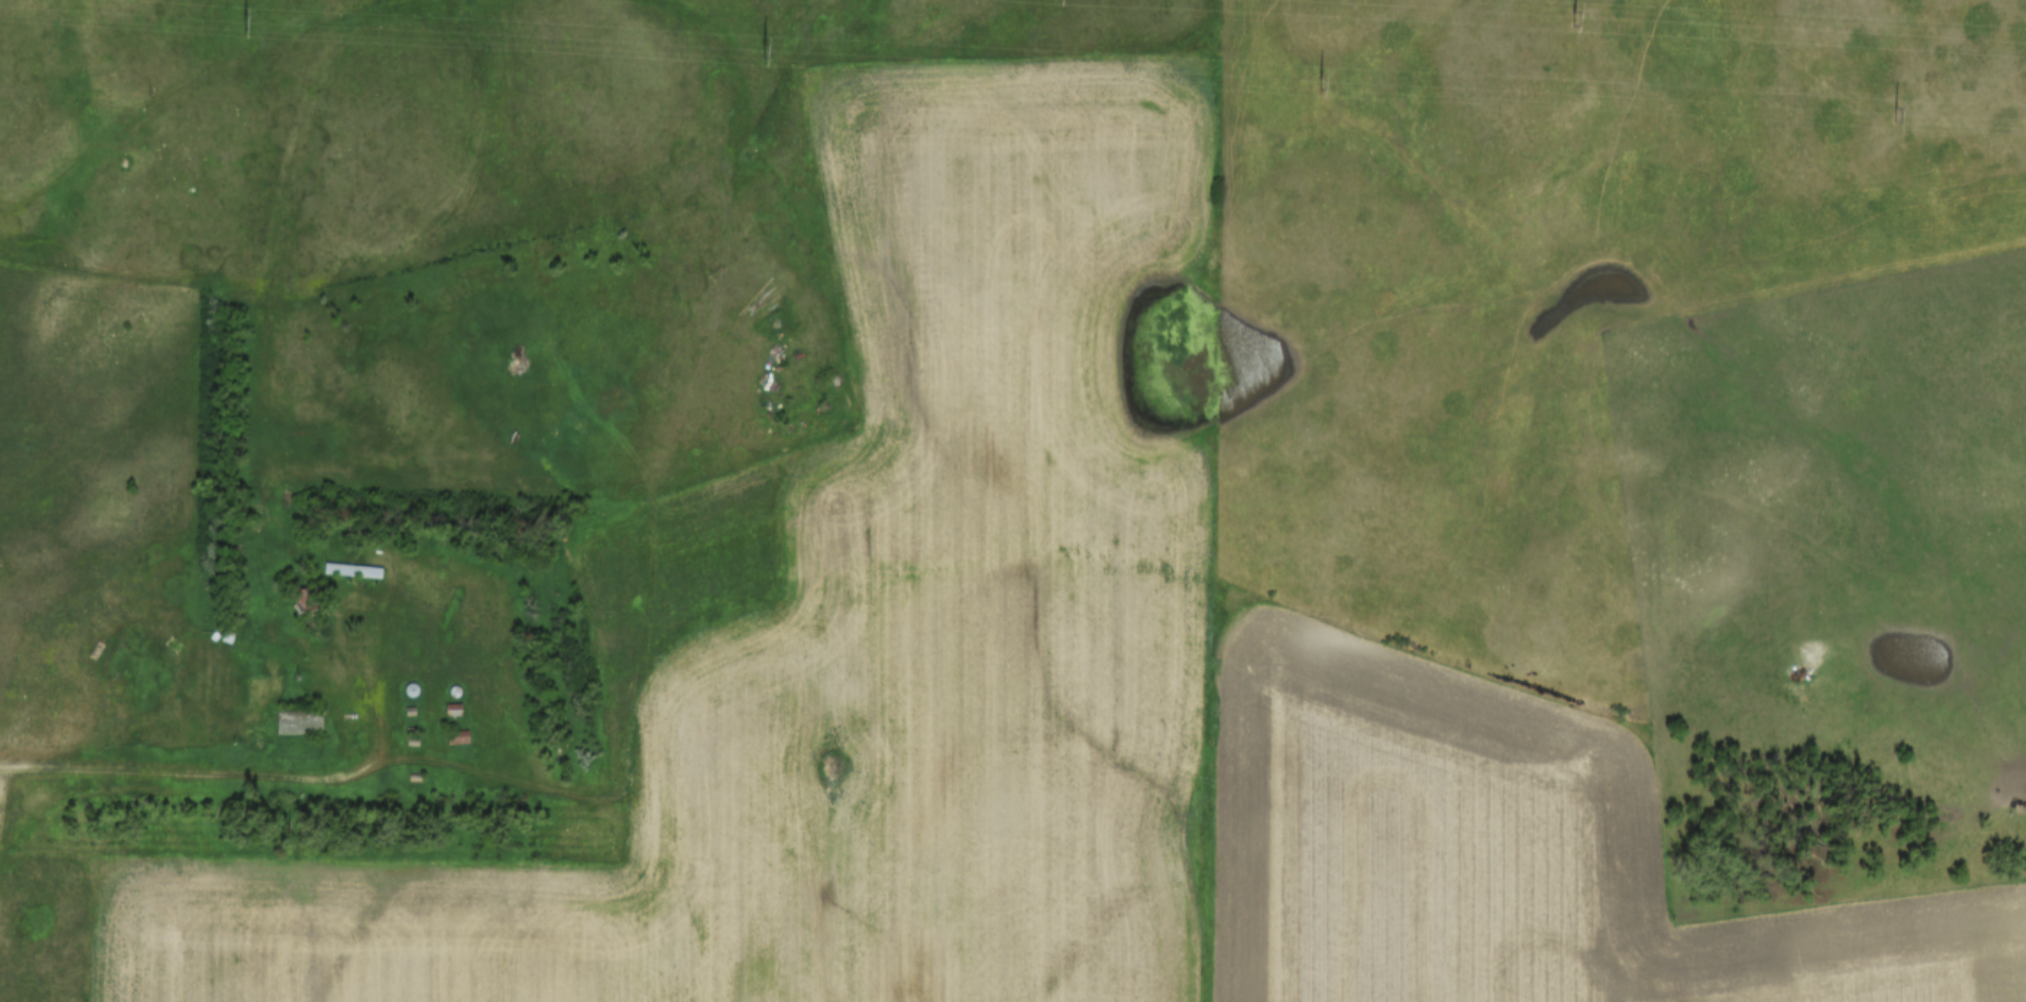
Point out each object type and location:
power tower: (246, 24)
power tower: (768, 50)
power tower: (1324, 81)
power tower: (1895, 114)
building: (350, 570)
road: (339, 622)
road: (1144, 652)
building: (451, 710)
building: (298, 720)
building: (457, 737)
road: (188, 776)
road: (1960, 941)

